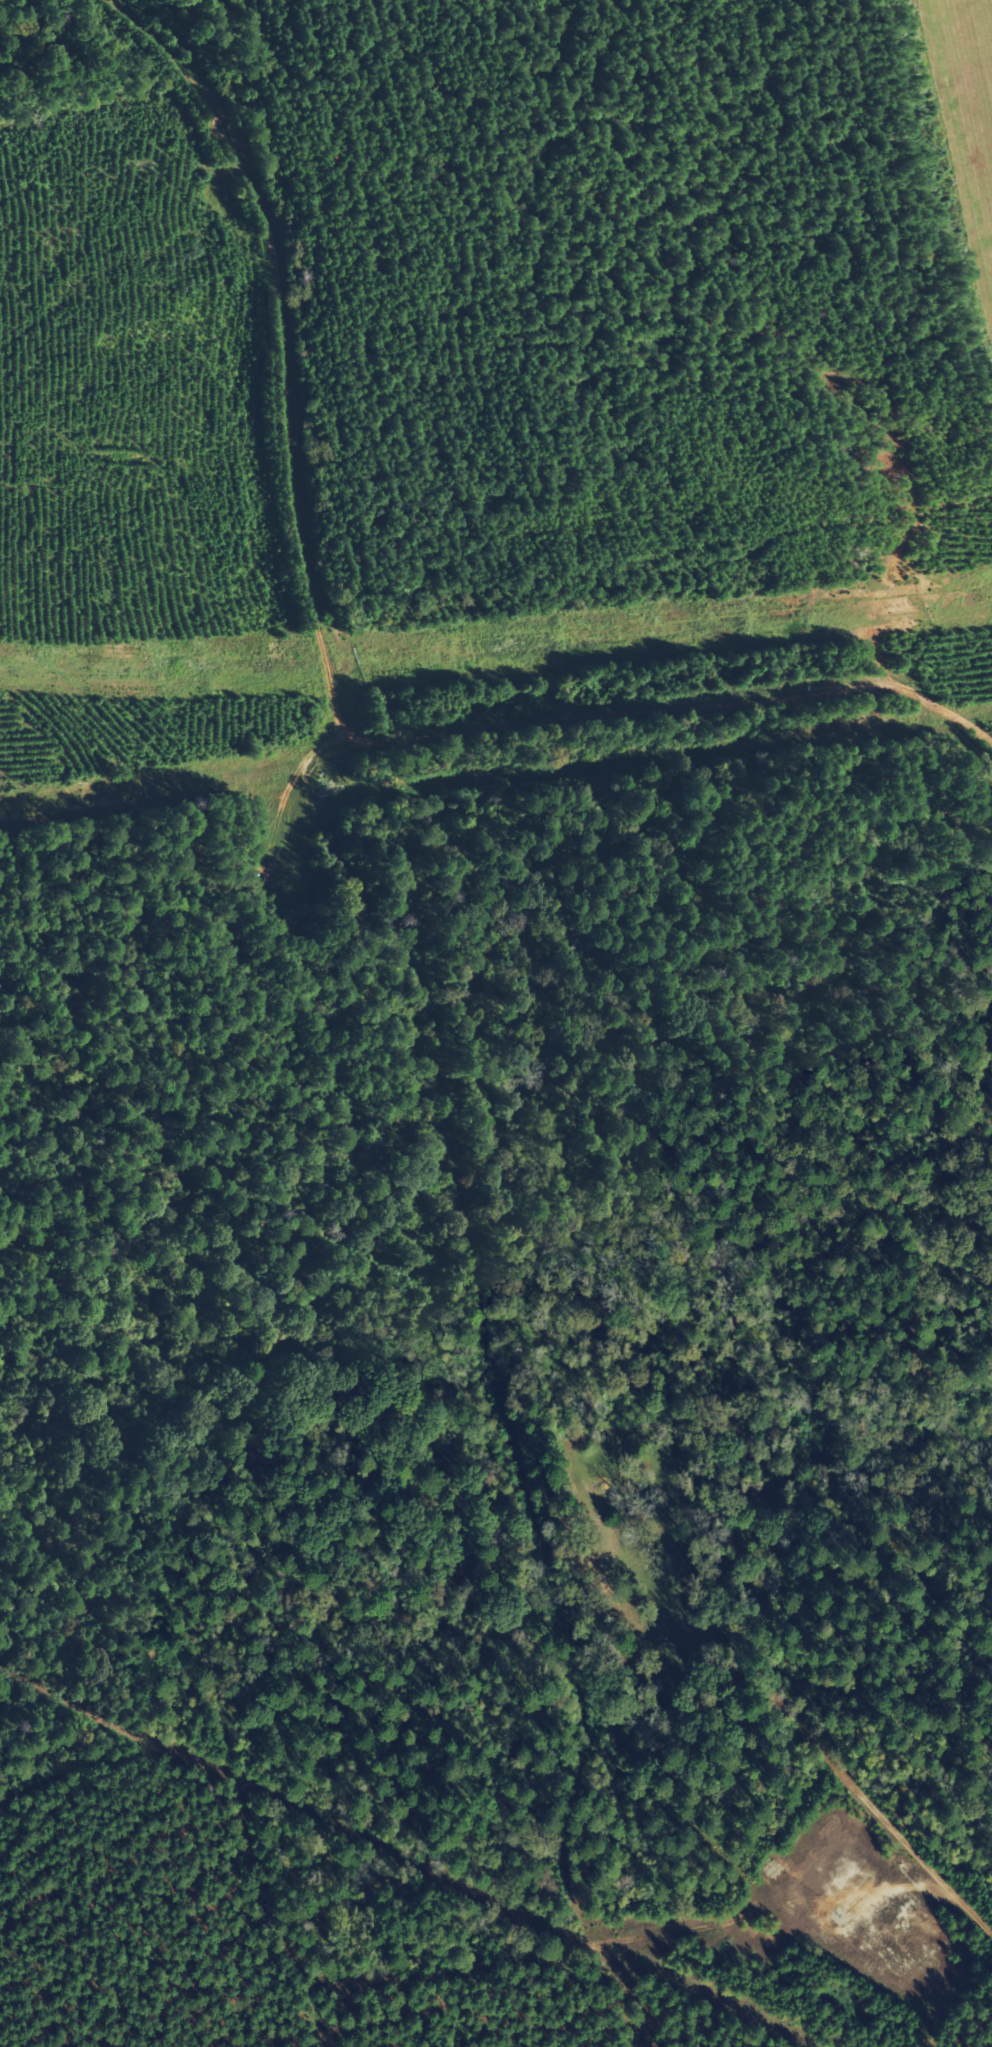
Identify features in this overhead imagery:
road: (786, 1710)

